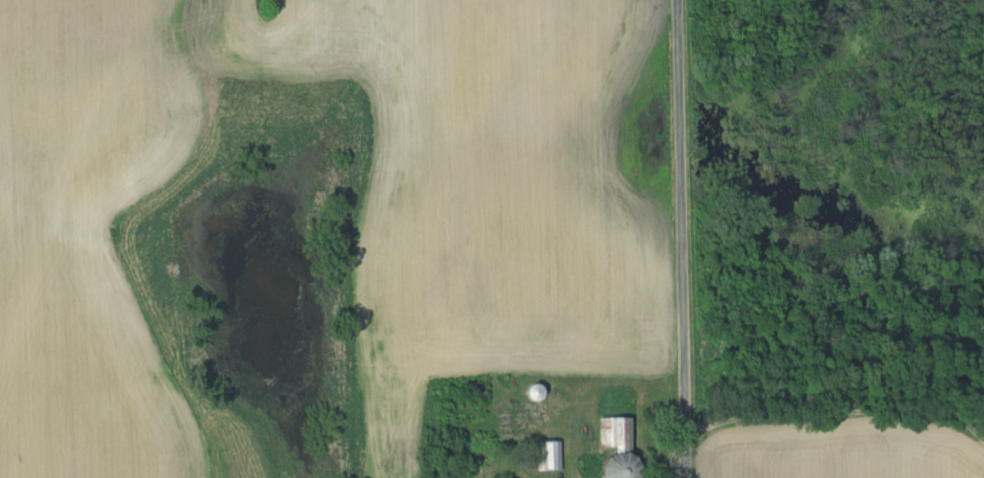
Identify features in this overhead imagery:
road: (684, 238)
building: (530, 392)
building: (612, 447)
building: (542, 456)

